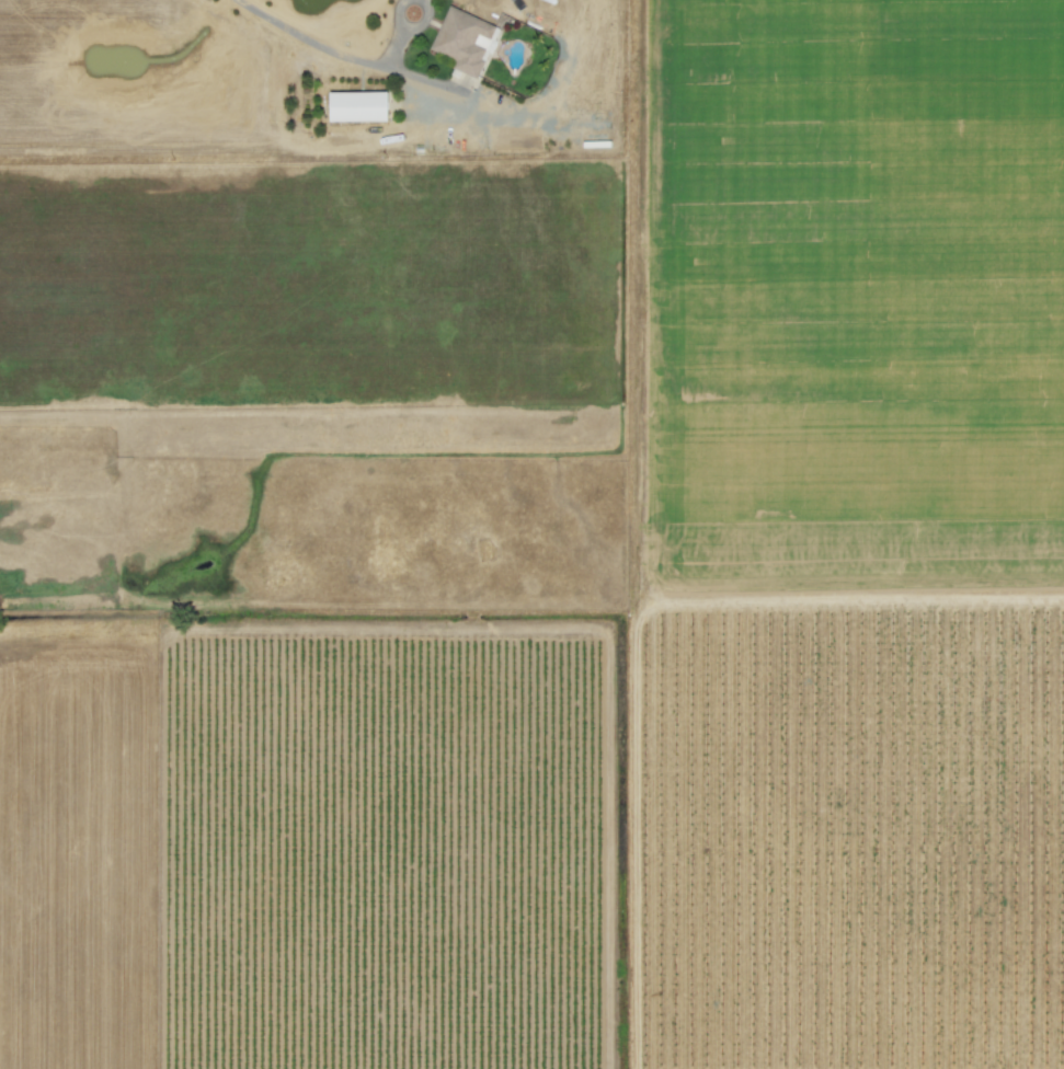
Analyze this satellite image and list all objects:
building: (464, 39)
road: (329, 49)
building: (358, 105)

